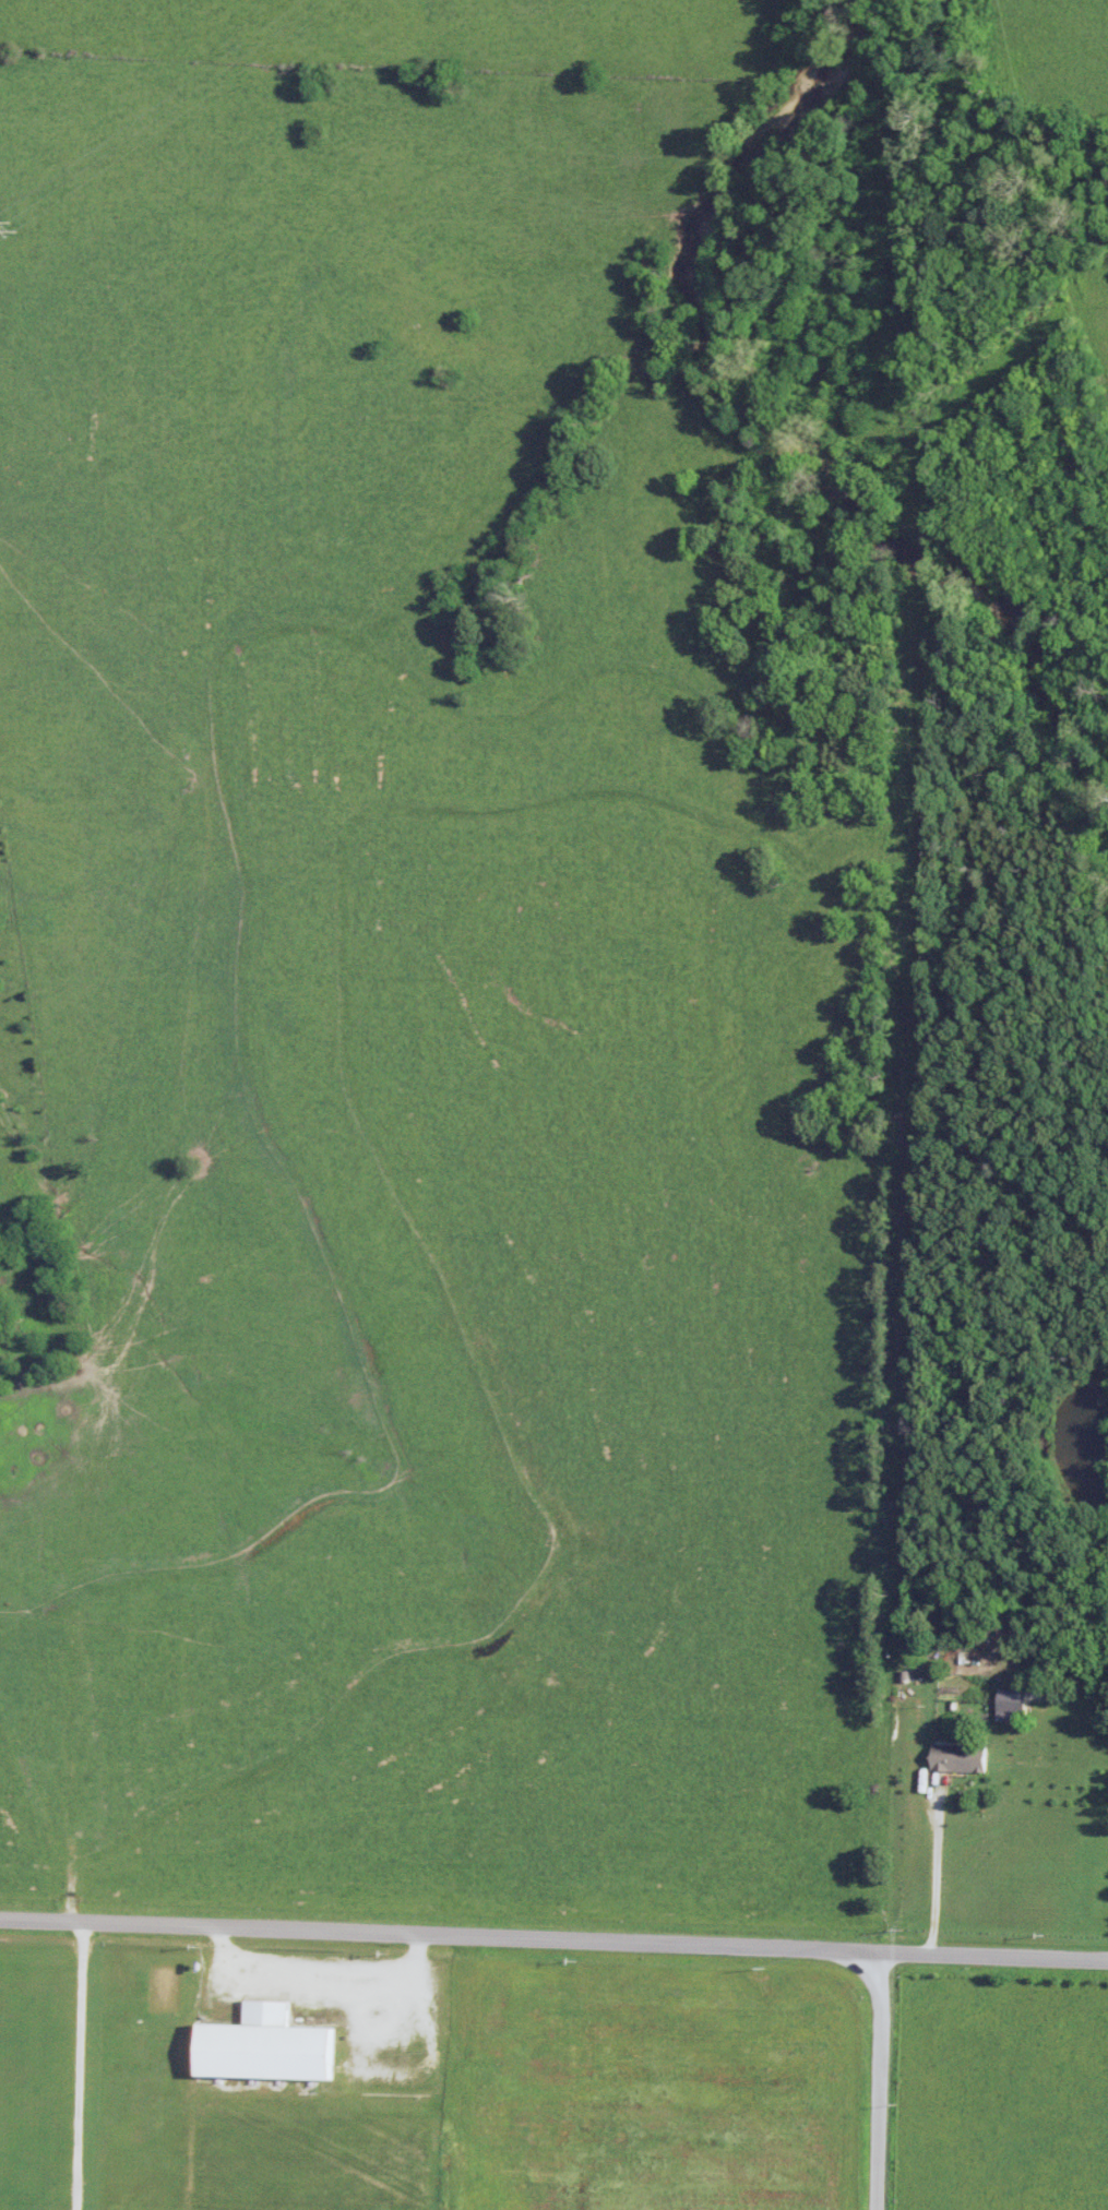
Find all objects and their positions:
building: (962, 1758)
road: (938, 1864)
road: (553, 1942)
building: (267, 2044)
road: (78, 2067)
road: (878, 2081)

